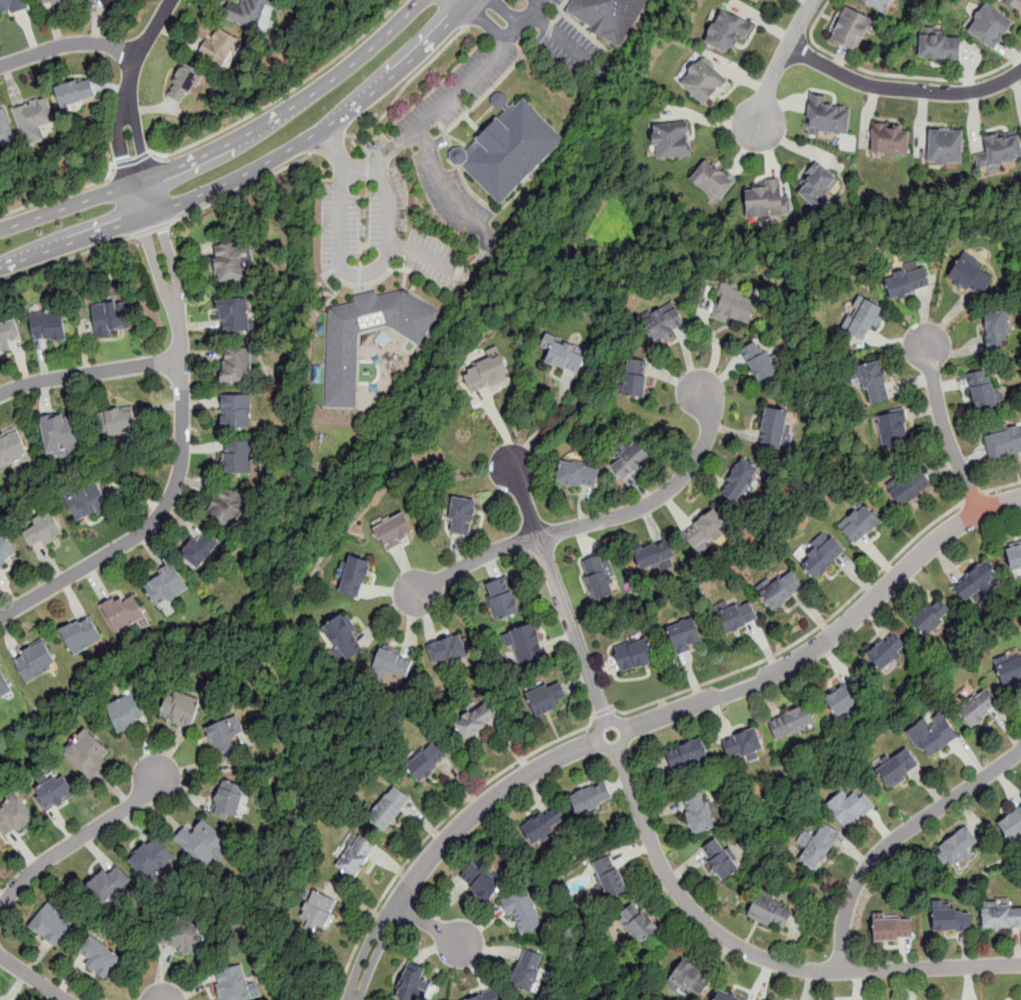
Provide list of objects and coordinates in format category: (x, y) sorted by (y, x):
building: (89, 0)
building: (94, 0)
building: (759, 1)
building: (52, 2)
building: (1017, 4)
building: (11, 5)
building: (881, 5)
building: (249, 12)
road: (478, 13)
road: (493, 17)
building: (612, 17)
building: (993, 27)
building: (854, 32)
building: (729, 33)
road: (563, 40)
road: (539, 41)
road: (67, 44)
building: (220, 48)
building: (941, 49)
road: (782, 61)
road: (892, 74)
building: (183, 82)
building: (707, 83)
road: (406, 84)
road: (128, 88)
road: (902, 91)
building: (75, 93)
road: (282, 96)
road: (455, 96)
road: (477, 100)
building: (830, 118)
building: (34, 119)
building: (5, 132)
building: (891, 141)
road: (327, 143)
building: (675, 143)
road: (228, 147)
building: (948, 149)
building: (1005, 149)
building: (513, 150)
road: (339, 155)
road: (134, 168)
road: (261, 172)
building: (716, 183)
building: (820, 186)
road: (241, 189)
road: (449, 193)
road: (55, 195)
building: (769, 204)
road: (151, 229)
road: (426, 255)
road: (65, 258)
building: (234, 262)
road: (367, 275)
building: (972, 277)
building: (908, 283)
building: (738, 306)
building: (236, 316)
building: (111, 319)
building: (863, 319)
building: (666, 324)
building: (49, 326)
building: (998, 331)
building: (9, 336)
road: (714, 349)
building: (567, 358)
building: (762, 363)
building: (241, 366)
road: (89, 373)
building: (489, 374)
building: (343, 378)
building: (638, 380)
building: (878, 383)
building: (984, 392)
building: (239, 413)
road: (941, 419)
building: (117, 423)
road: (549, 424)
road: (501, 428)
building: (777, 429)
building: (895, 431)
building: (62, 436)
road: (183, 445)
building: (1004, 445)
building: (12, 451)
building: (240, 459)
building: (633, 462)
building: (581, 476)
building: (744, 482)
road: (1004, 487)
building: (909, 489)
road: (974, 495)
road: (974, 497)
road: (657, 499)
road: (1010, 500)
building: (89, 503)
building: (229, 508)
road: (980, 510)
building: (465, 517)
building: (861, 525)
building: (397, 531)
building: (45, 532)
building: (709, 534)
building: (6, 551)
building: (202, 552)
building: (824, 556)
building: (658, 557)
building: (1016, 560)
road: (472, 561)
building: (357, 578)
building: (600, 580)
building: (978, 583)
building: (169, 587)
building: (783, 593)
road: (560, 595)
building: (505, 601)
building: (125, 615)
building: (933, 619)
building: (739, 620)
building: (686, 637)
road: (805, 637)
building: (84, 638)
building: (346, 639)
building: (529, 646)
building: (451, 652)
road: (809, 652)
building: (889, 652)
building: (636, 656)
building: (36, 664)
building: (395, 664)
building: (1010, 671)
building: (4, 689)
building: (848, 698)
building: (549, 701)
building: (977, 706)
building: (182, 711)
building: (128, 713)
road: (603, 713)
building: (479, 723)
building: (795, 724)
road: (599, 727)
building: (931, 732)
building: (228, 738)
building: (747, 746)
building: (89, 756)
building: (688, 757)
building: (430, 765)
building: (895, 765)
building: (56, 795)
building: (592, 798)
building: (230, 803)
building: (850, 805)
building: (392, 811)
building: (698, 813)
building: (16, 818)
building: (1011, 823)
building: (544, 826)
road: (435, 828)
road: (896, 838)
road: (77, 839)
road: (445, 841)
building: (203, 845)
building: (820, 845)
building: (958, 846)
building: (720, 859)
building: (359, 860)
building: (154, 861)
building: (609, 877)
building: (482, 882)
building: (110, 888)
building: (525, 910)
building: (769, 911)
building: (321, 913)
building: (1000, 914)
building: (950, 917)
building: (637, 921)
road: (432, 926)
building: (890, 927)
building: (53, 928)
building: (184, 941)
road: (760, 956)
building: (101, 960)
building: (531, 970)
road: (32, 977)
building: (688, 977)
building: (415, 984)
building: (235, 985)
building: (491, 996)
building: (727, 996)

